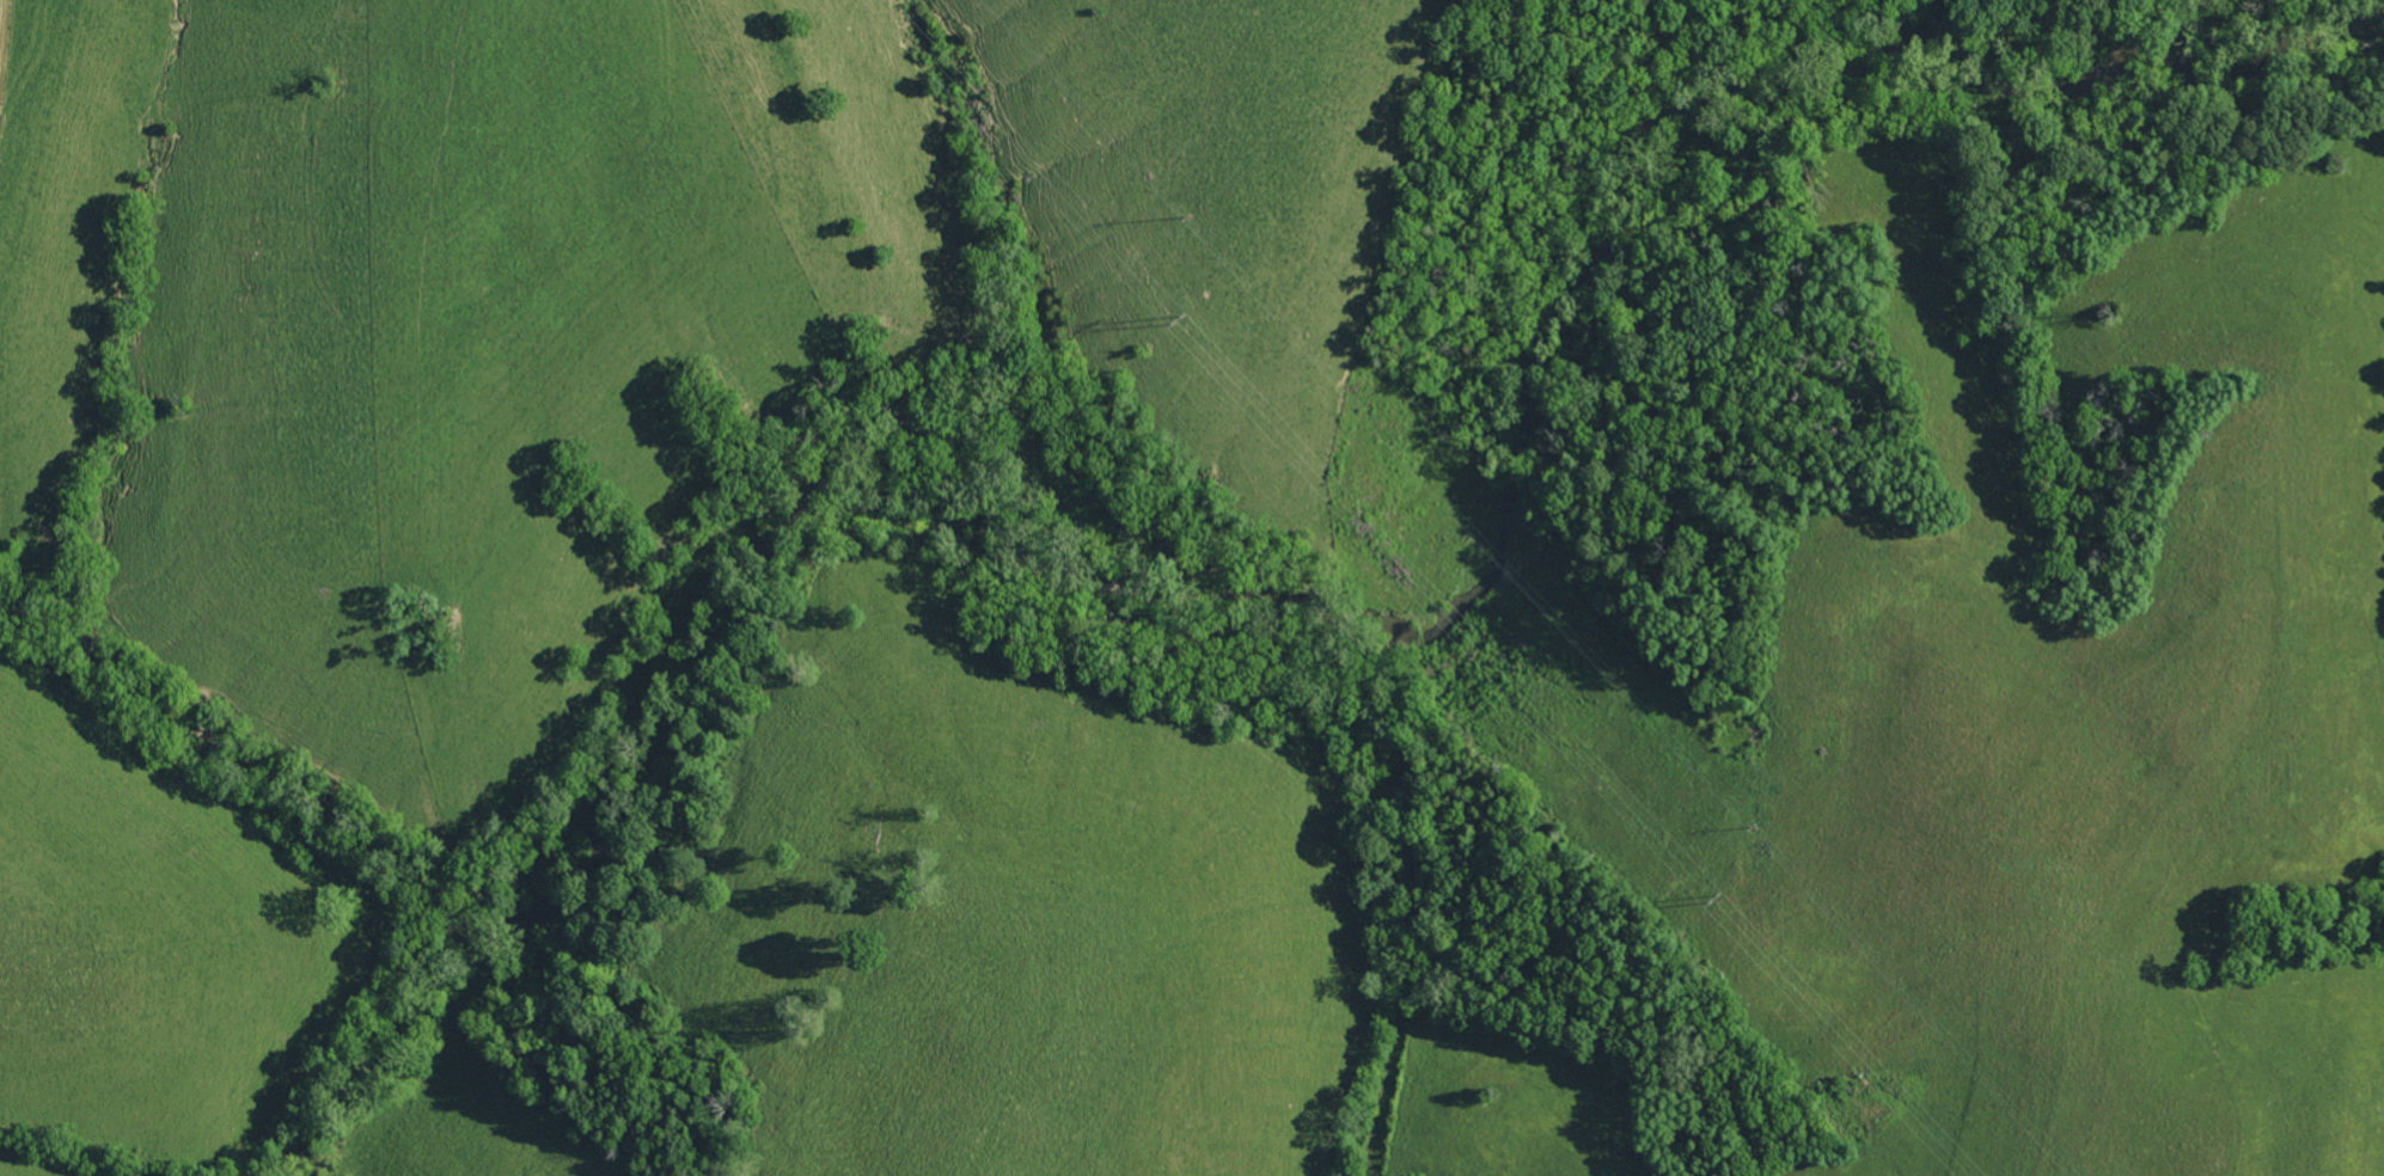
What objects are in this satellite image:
road: (2091, 1139)

